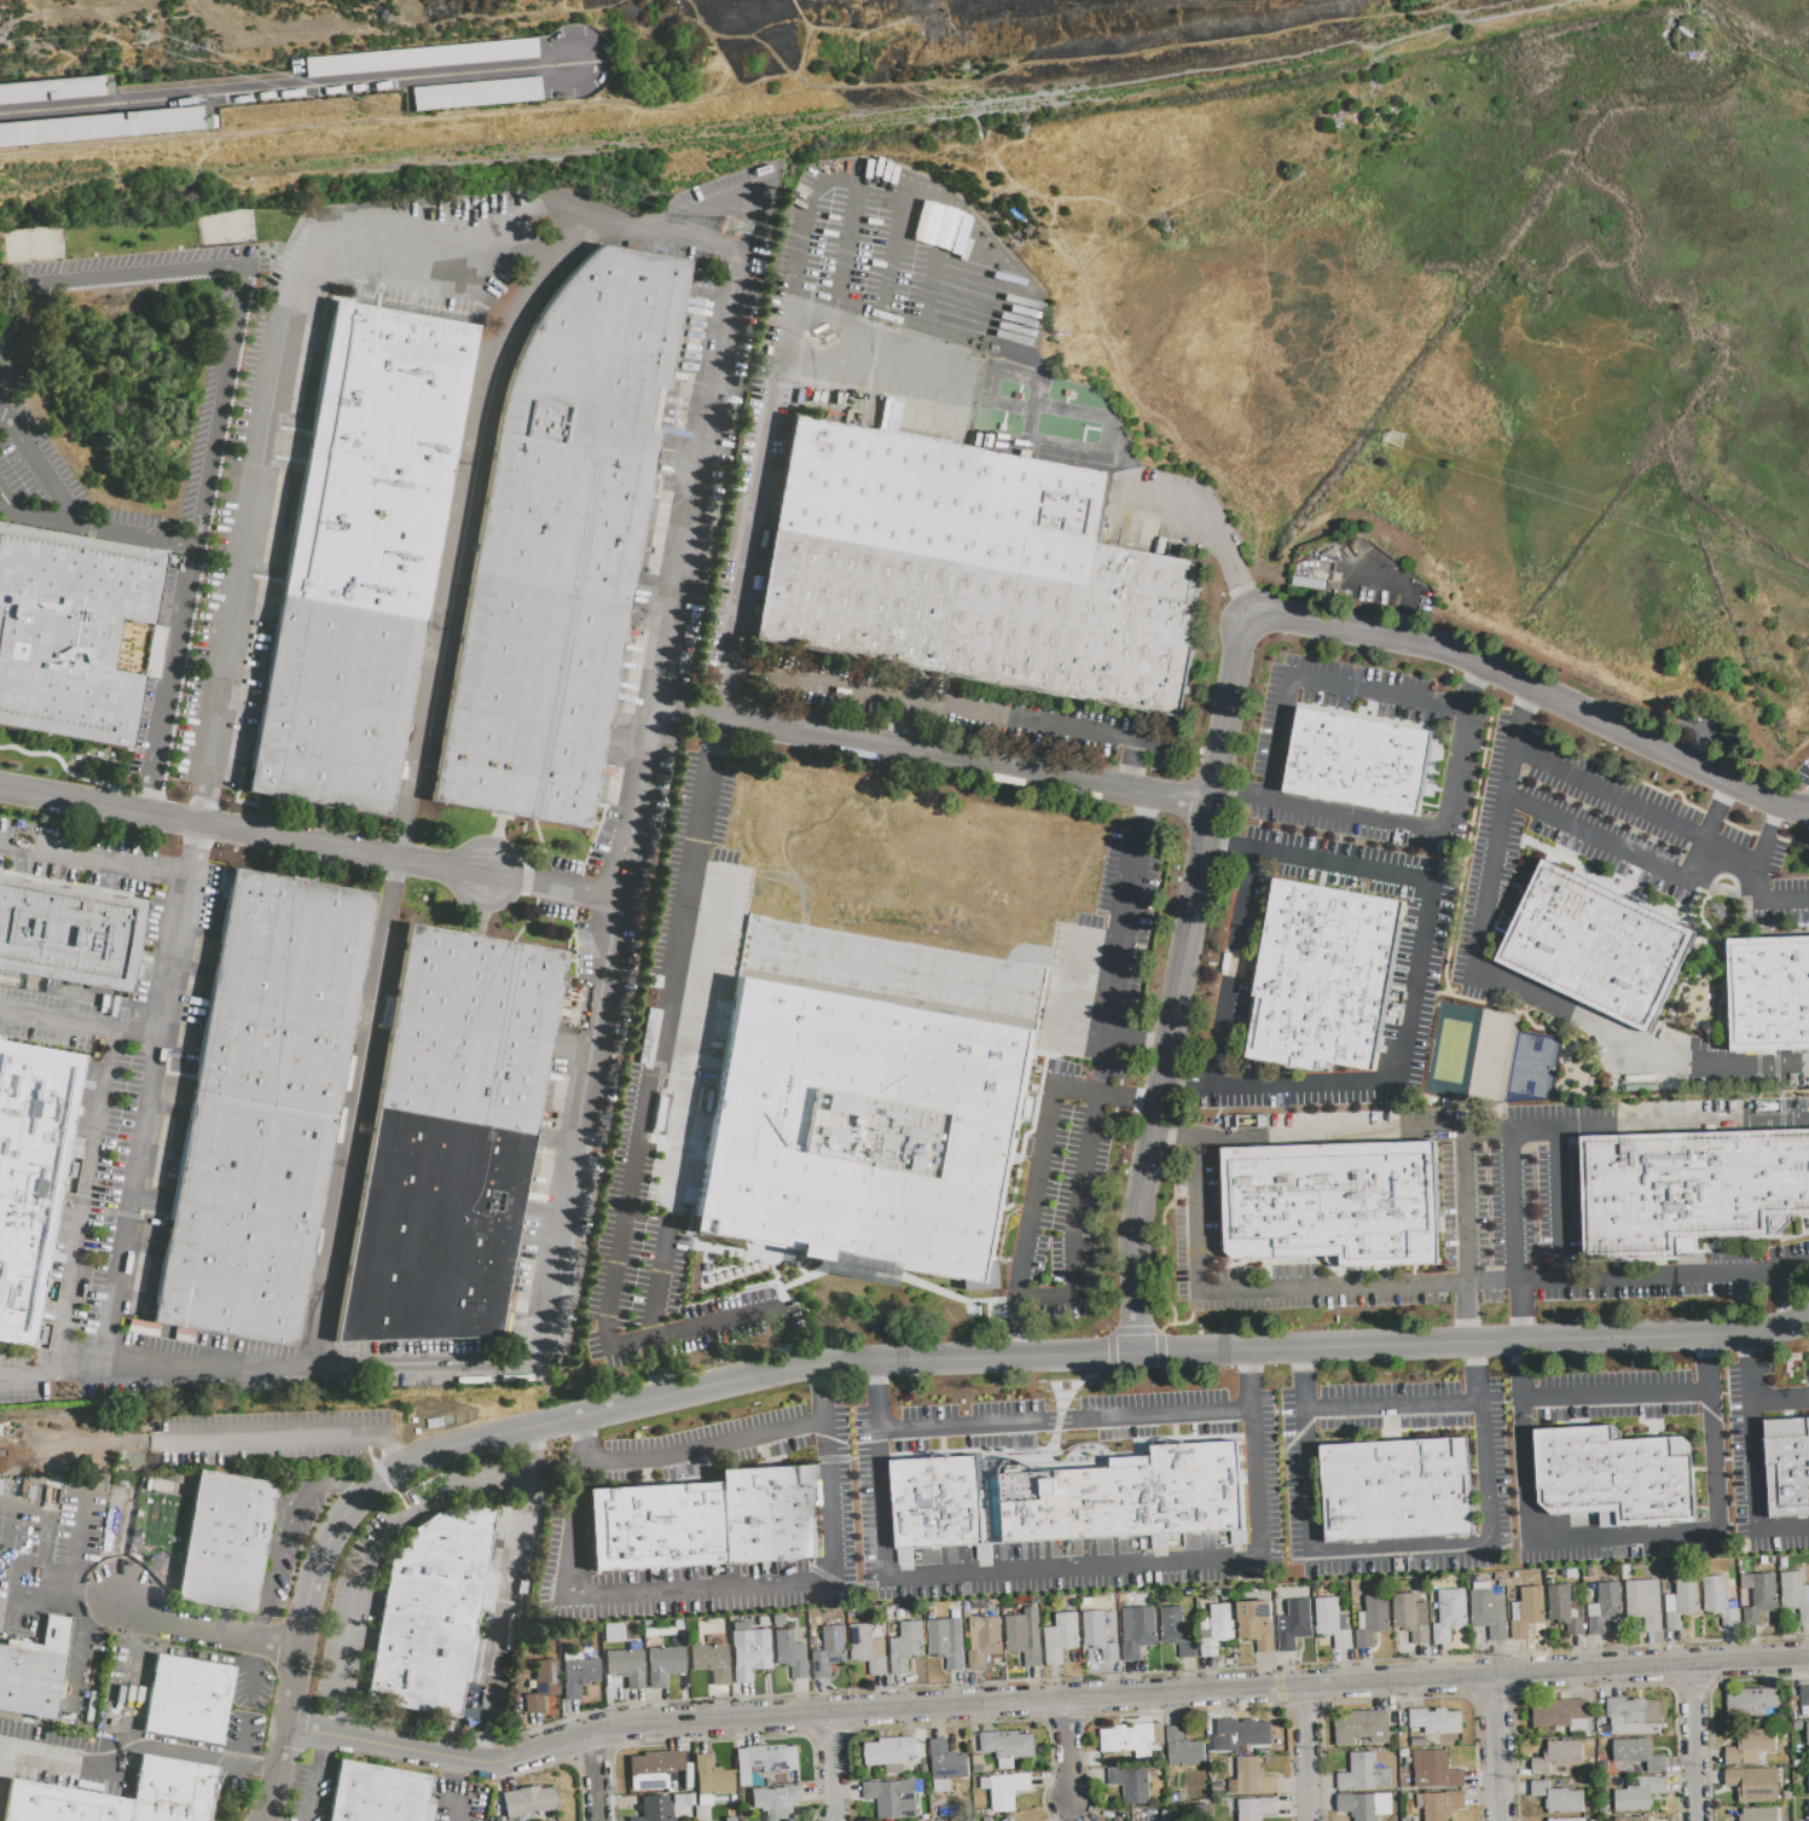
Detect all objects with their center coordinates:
power tower: (134, 35)
building: (418, 57)
building: (53, 88)
road: (288, 91)
building: (472, 92)
railway: (778, 120)
railway: (859, 122)
building: (102, 124)
railway: (759, 147)
road: (847, 180)
road: (725, 202)
road: (543, 211)
power tower: (731, 228)
street lamp: (193, 245)
street lamp: (132, 253)
road: (527, 253)
street lamp: (69, 257)
road: (221, 267)
road: (887, 277)
road: (929, 286)
road: (292, 289)
building: (615, 307)
road: (724, 354)
park: (121, 385)
building: (392, 388)
building: (584, 401)
parking lot: (117, 407)
power tower: (1398, 442)
road: (765, 456)
street lamp: (186, 457)
parking lot: (685, 458)
road: (39, 469)
building: (570, 469)
parking lot: (945, 498)
parking lot: (256, 505)
building: (562, 515)
road: (33, 520)
building: (365, 535)
road: (135, 538)
parking lot: (462, 545)
building: (876, 546)
road: (453, 563)
building: (555, 563)
parking lot: (1372, 578)
building: (1079, 597)
road: (1248, 603)
building: (70, 633)
building: (346, 643)
road: (1453, 656)
road: (170, 672)
road: (1478, 679)
road: (1316, 684)
road: (726, 689)
building: (530, 701)
road: (1527, 702)
building: (335, 707)
road: (688, 714)
road: (1519, 719)
parking lot: (1361, 755)
road: (966, 760)
building: (1358, 762)
building: (323, 771)
road: (1618, 771)
road: (70, 773)
parking lot: (1801, 778)
road: (1136, 783)
road: (1224, 796)
road: (1727, 796)
road: (638, 804)
road: (145, 806)
road: (1639, 810)
road: (199, 813)
road: (1712, 816)
road: (1779, 818)
street lamp: (95, 822)
street lamp: (1787, 827)
road: (1413, 828)
road: (1739, 829)
street lamp: (342, 830)
road: (243, 834)
parking lot: (603, 834)
road: (1767, 835)
road: (1497, 842)
road: (1792, 842)
road: (493, 846)
road: (1216, 847)
road: (401, 849)
road: (80, 852)
parking lot: (74, 856)
road: (1635, 858)
street lamp: (522, 859)
road: (93, 863)
road: (396, 874)
road: (578, 882)
road: (553, 886)
parking lot: (556, 886)
road: (1763, 887)
road: (482, 904)
building: (70, 907)
parking lot: (1634, 924)
road: (179, 932)
road: (1125, 945)
building: (1596, 947)
building: (66, 955)
road: (1183, 969)
road: (1233, 973)
parking lot: (1328, 975)
building: (1323, 978)
road: (1416, 988)
building: (283, 992)
road: (1440, 993)
building: (1769, 993)
road: (1502, 1008)
parking lot: (46, 1019)
building: (472, 1028)
road: (1636, 1046)
park: (1453, 1051)
park: (1490, 1057)
park: (1531, 1067)
road: (1173, 1086)
road: (1130, 1095)
building: (869, 1098)
parking lot: (865, 1118)
building: (260, 1123)
road: (645, 1125)
road: (1635, 1129)
parking lot: (124, 1132)
road: (1328, 1137)
road: (1175, 1138)
building: (253, 1162)
building: (448, 1166)
road: (138, 1173)
building: (1798, 1173)
building: (30, 1175)
building: (1741, 1184)
building: (1639, 1196)
road: (85, 1201)
building: (1334, 1201)
building: (245, 1205)
road: (1558, 1207)
parking lot: (1492, 1208)
road: (1465, 1211)
road: (1513, 1211)
road: (673, 1213)
road: (336, 1230)
road: (1136, 1246)
road: (567, 1247)
building: (237, 1252)
building: (424, 1276)
road: (729, 1284)
road: (1426, 1289)
road: (1060, 1300)
road: (1780, 1301)
building: (227, 1306)
road: (657, 1309)
road: (1523, 1316)
road: (1467, 1318)
road: (1016, 1333)
road: (1640, 1341)
road: (782, 1342)
road: (1751, 1346)
road: (1710, 1347)
road: (1303, 1352)
road: (1524, 1355)
road: (1479, 1358)
road: (1304, 1363)
road: (1252, 1365)
road: (654, 1371)
road: (872, 1378)
road: (827, 1379)
road: (1752, 1380)
road: (1253, 1394)
road: (1618, 1397)
road: (1781, 1403)
road: (1393, 1409)
road: (570, 1419)
road: (581, 1428)
parking lot: (266, 1437)
road: (267, 1438)
road: (85, 1448)
road: (388, 1449)
road: (527, 1449)
road: (580, 1452)
building: (1786, 1469)
building: (1552, 1471)
building: (1595, 1477)
road: (341, 1481)
building: (1660, 1481)
parking lot: (1182, 1484)
road: (880, 1485)
road: (833, 1486)
road: (1257, 1486)
building: (1199, 1487)
building: (1398, 1490)
road: (1756, 1495)
building: (1133, 1496)
building: (959, 1502)
building: (1002, 1503)
building: (1092, 1503)
building: (916, 1504)
road: (425, 1506)
building: (1046, 1506)
building: (767, 1514)
parking lot: (79, 1519)
building: (654, 1526)
building: (1236, 1536)
road: (574, 1538)
road: (280, 1541)
building: (224, 1542)
road: (1623, 1542)
road: (1401, 1549)
building: (1796, 1594)
building: (1762, 1599)
building: (1682, 1601)
building: (1720, 1601)
building: (1645, 1603)
road: (505, 1605)
building: (1605, 1608)
building: (1564, 1611)
building: (1526, 1612)
building: (1489, 1613)
building: (435, 1614)
building: (1411, 1617)
building: (1449, 1617)
building: (777, 1619)
building: (763, 1620)
building: (1372, 1620)
building: (1333, 1623)
building: (1256, 1624)
road: (260, 1625)
building: (1297, 1625)
building: (1217, 1629)
road: (207, 1631)
building: (1138, 1631)
building: (1177, 1631)
building: (1101, 1635)
parking lot: (349, 1637)
building: (1061, 1637)
building: (984, 1641)
building: (1021, 1641)
building: (947, 1642)
building: (906, 1647)
building: (868, 1648)
building: (748, 1652)
building: (830, 1652)
road: (344, 1653)
building: (790, 1653)
building: (711, 1661)
building: (663, 1664)
building: (625, 1666)
road: (1182, 1670)
building: (34, 1672)
building: (190, 1676)
building: (576, 1676)
building: (540, 1683)
road: (1317, 1684)
road: (1692, 1686)
road: (1277, 1687)
parking lot: (249, 1688)
road: (1599, 1688)
road: (1494, 1697)
road: (1401, 1699)
building: (1804, 1701)
building: (1751, 1703)
road: (1709, 1704)
road: (1304, 1710)
road: (1185, 1711)
building: (1561, 1713)
building: (182, 1715)
building: (1633, 1716)
building: (1437, 1721)
road: (1065, 1722)
road: (953, 1724)
road: (331, 1726)
building: (1362, 1727)
parking lot: (243, 1728)
building: (1808, 1733)
building: (1239, 1734)
road: (827, 1735)
road: (714, 1738)
building: (1113, 1739)
road: (553, 1742)
road: (1694, 1744)
road: (138, 1746)
building: (1008, 1746)
building: (1183, 1747)
building: (1751, 1747)
road: (1496, 1748)
road: (1068, 1750)
road: (1304, 1752)
building: (891, 1753)
building: (1639, 1753)
road: (482, 1755)
road: (588, 1755)
road: (1, 1756)
building: (1558, 1756)
parking lot: (63, 1758)
building: (763, 1763)
building: (946, 1765)
road: (830, 1767)
building: (651, 1769)
parking lot: (231, 1771)
building: (1437, 1773)
building: (1364, 1774)
building: (711, 1775)
building: (175, 1776)
road: (596, 1776)
building: (1251, 1776)
road: (312, 1777)
road: (578, 1779)
building: (1808, 1780)
building: (1132, 1785)
building: (1755, 1785)
road: (216, 1790)
building: (1005, 1790)
parking lot: (307, 1792)
building: (376, 1794)
building: (1639, 1794)
building: (892, 1798)
building: (527, 1799)
building: (1559, 1799)
parking lot: (460, 1800)
building: (777, 1802)
building: (60, 1804)
building: (1442, 1804)
building: (1366, 1805)
building: (167, 1806)
building: (655, 1809)
building: (1257, 1809)
building: (1759, 1815)
building: (1170, 1816)
building: (1633, 1819)
building: (1009, 1820)
building: (1569, 1820)

